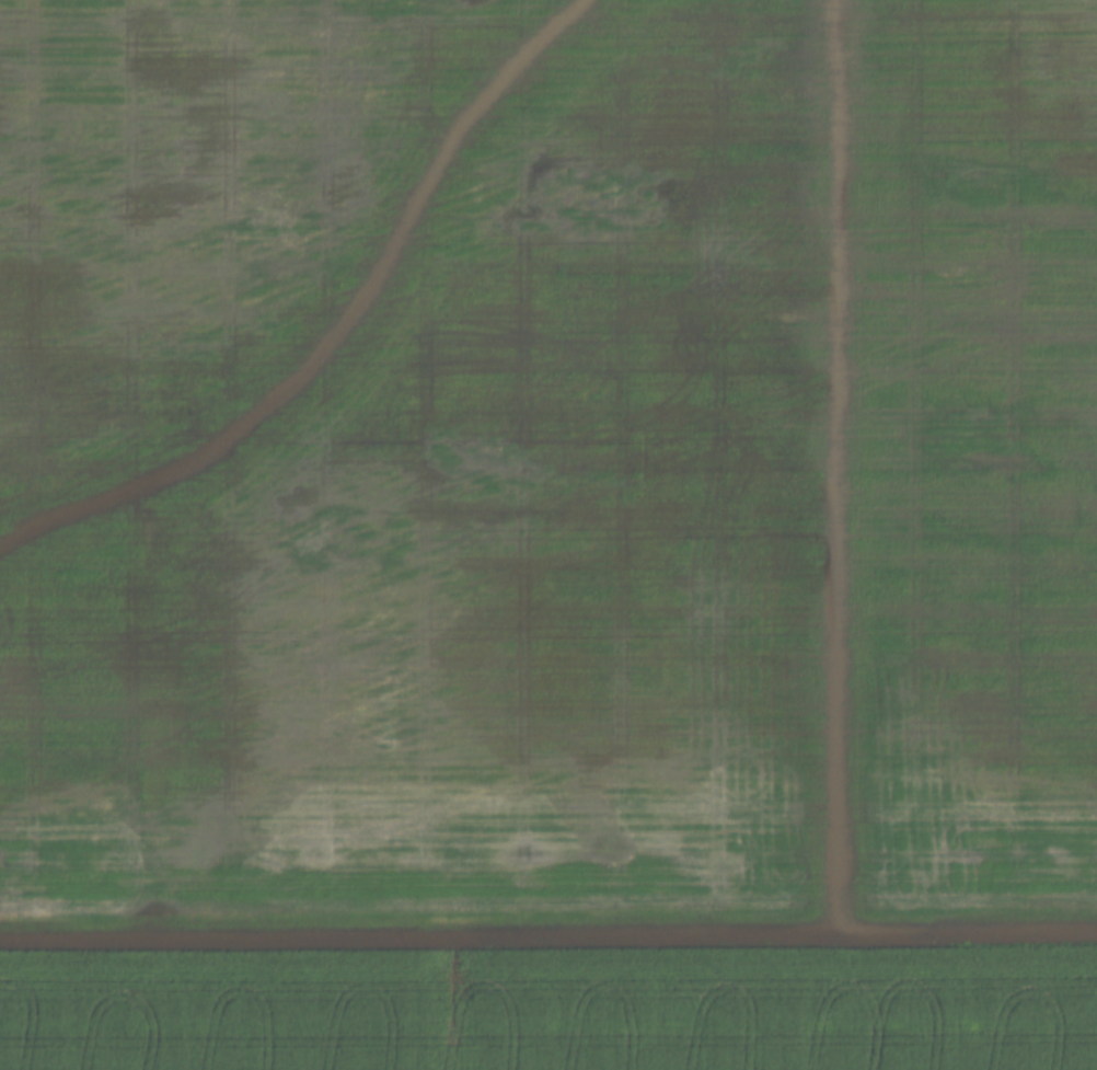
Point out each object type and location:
crop: (547, 459)
crop: (550, 1008)

